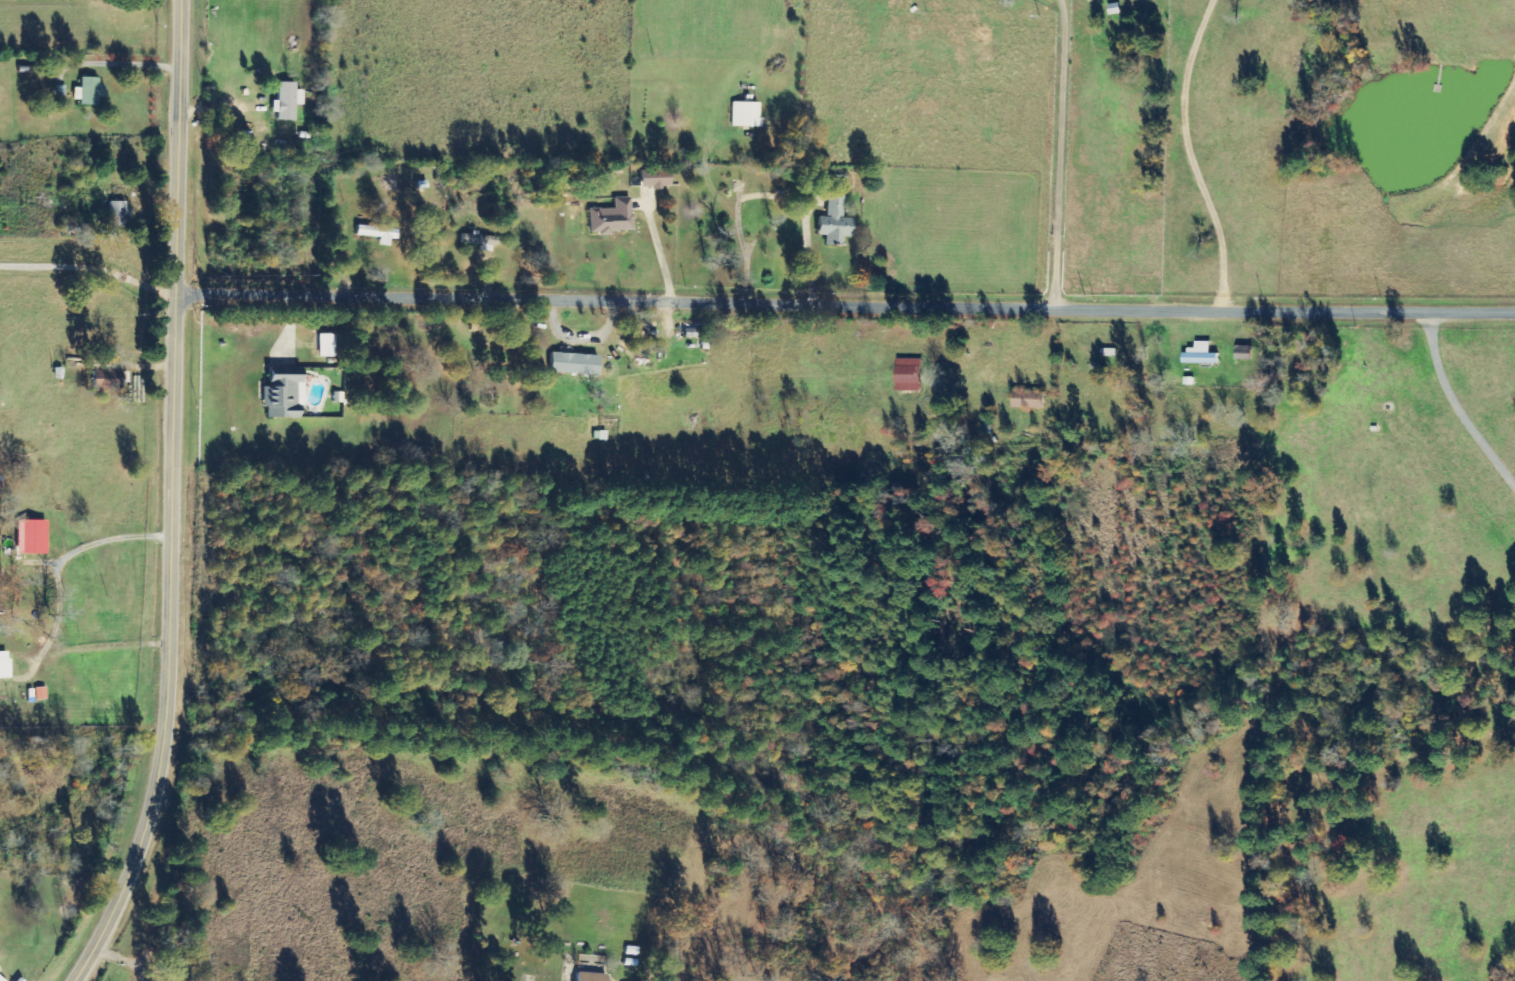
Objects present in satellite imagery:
building: (87, 92)
building: (285, 101)
building: (744, 114)
building: (653, 179)
building: (835, 180)
building: (116, 215)
building: (610, 218)
building: (833, 223)
building: (376, 234)
building: (477, 240)
road: (152, 284)
road: (850, 304)
building: (326, 346)
building: (1244, 352)
building: (1200, 354)
building: (572, 364)
building: (908, 375)
building: (281, 397)
building: (1028, 400)
road: (179, 500)
building: (29, 536)
building: (3, 665)
building: (588, 976)
building: (1, 980)

